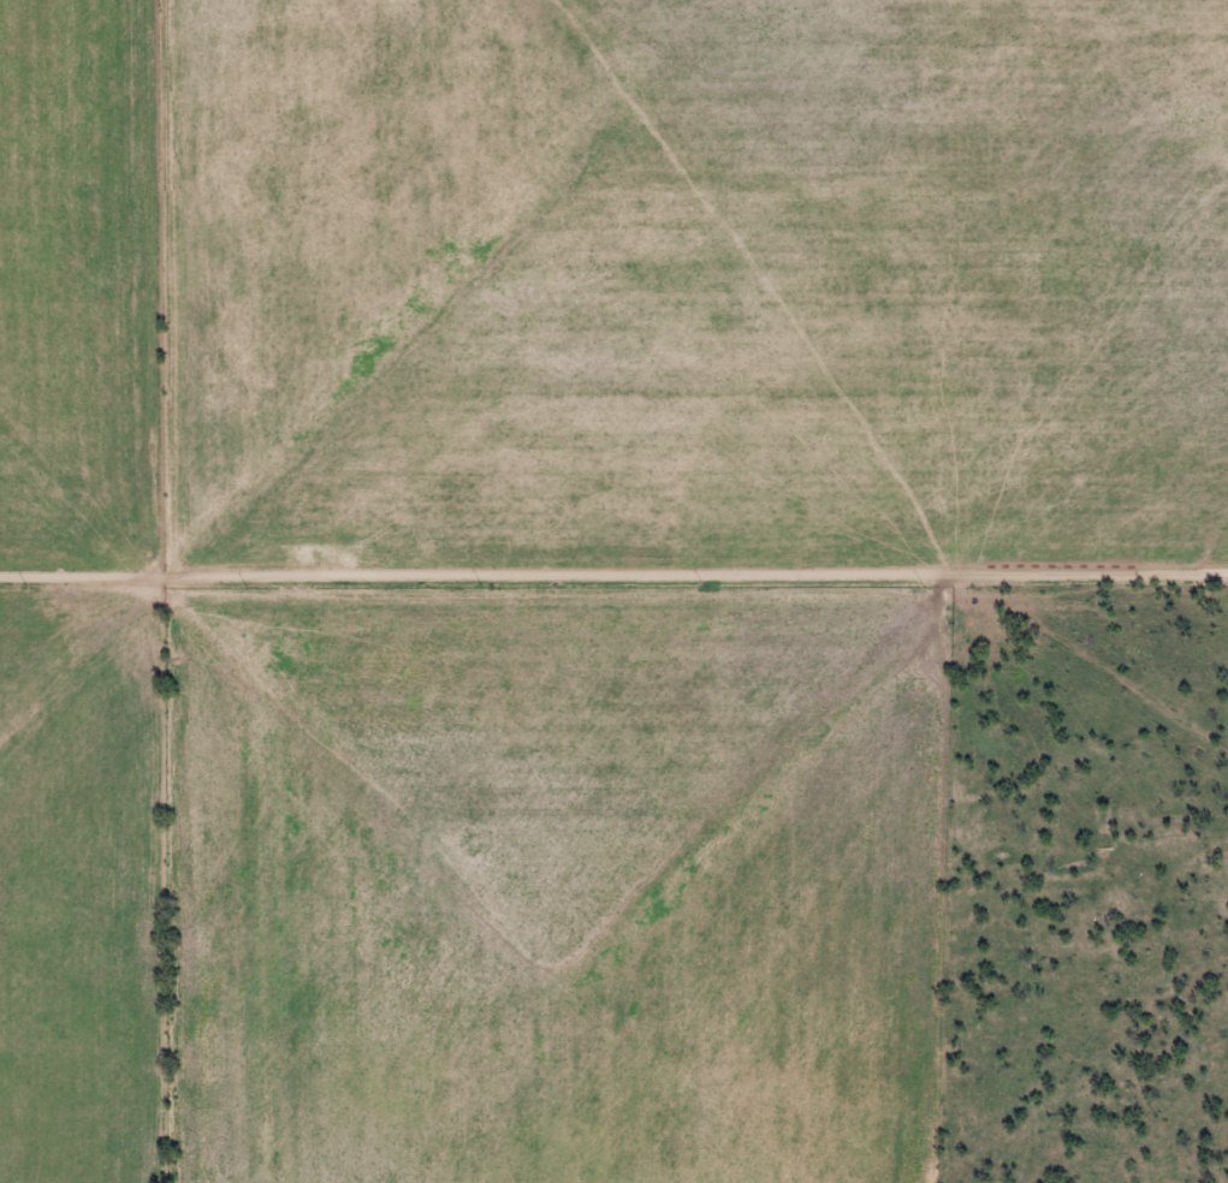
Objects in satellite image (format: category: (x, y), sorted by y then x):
road: (613, 578)

